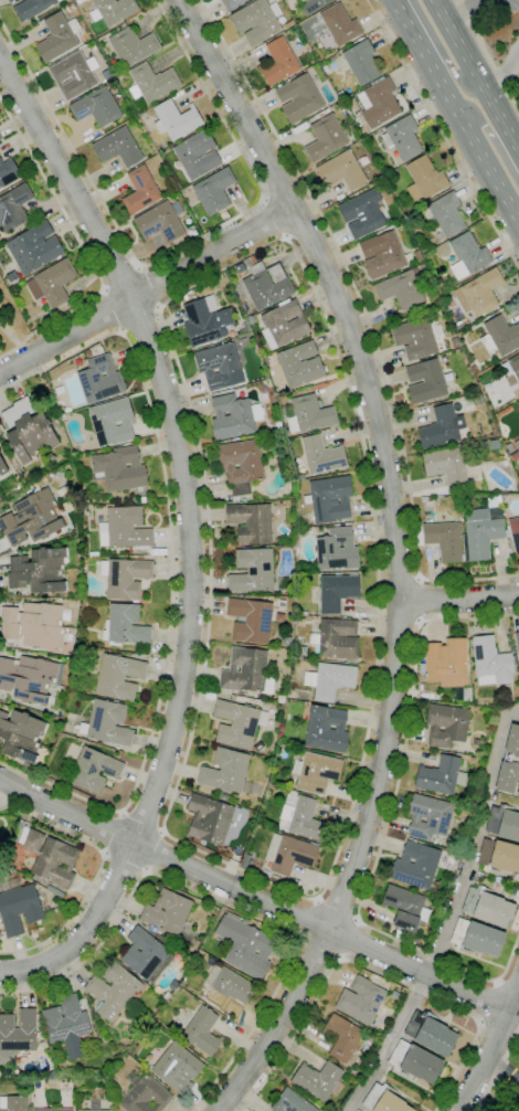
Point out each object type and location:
building: (85, 0)
building: (80, 1)
building: (231, 3)
building: (314, 4)
parking lot: (507, 7)
building: (32, 8)
building: (71, 8)
building: (113, 10)
road: (468, 12)
building: (256, 21)
building: (289, 23)
building: (340, 24)
building: (57, 36)
building: (133, 46)
road: (439, 50)
road: (487, 55)
building: (279, 62)
building: (361, 62)
building: (326, 67)
road: (505, 71)
building: (73, 75)
road: (476, 76)
building: (152, 83)
building: (340, 94)
building: (299, 98)
building: (380, 103)
building: (97, 107)
road: (456, 110)
building: (176, 119)
road: (443, 134)
building: (326, 137)
building: (401, 137)
building: (0, 138)
road: (490, 138)
building: (0, 139)
building: (118, 147)
building: (198, 155)
building: (0, 161)
building: (342, 170)
building: (8, 172)
building: (424, 178)
building: (140, 190)
building: (213, 191)
road: (283, 191)
building: (13, 207)
building: (363, 213)
building: (445, 213)
building: (223, 215)
road: (274, 219)
building: (160, 222)
road: (303, 228)
building: (34, 247)
road: (83, 247)
road: (177, 247)
building: (382, 254)
building: (467, 255)
building: (419, 256)
building: (250, 261)
building: (240, 268)
building: (12, 276)
road: (121, 277)
building: (53, 282)
road: (153, 285)
building: (267, 285)
building: (403, 288)
road: (145, 292)
building: (479, 293)
road: (112, 310)
building: (205, 320)
building: (252, 320)
road: (367, 320)
road: (141, 324)
building: (284, 324)
park: (11, 326)
building: (500, 336)
building: (416, 338)
building: (455, 342)
building: (299, 363)
building: (220, 366)
building: (475, 369)
building: (512, 371)
building: (100, 379)
building: (425, 381)
building: (518, 408)
building: (309, 414)
building: (234, 415)
building: (62, 417)
building: (113, 422)
building: (442, 427)
building: (28, 430)
building: (517, 444)
building: (510, 447)
building: (321, 455)
building: (515, 456)
building: (505, 463)
building: (241, 465)
building: (446, 465)
building: (2, 467)
building: (119, 469)
building: (300, 476)
building: (330, 498)
building: (424, 499)
building: (144, 500)
building: (31, 518)
building: (251, 522)
building: (127, 527)
building: (513, 532)
road: (189, 535)
building: (481, 537)
building: (445, 540)
building: (337, 550)
road: (394, 551)
building: (39, 570)
road: (171, 570)
building: (252, 571)
building: (125, 578)
road: (400, 581)
building: (338, 591)
road: (459, 597)
road: (421, 601)
building: (282, 603)
building: (279, 617)
building: (251, 620)
road: (399, 620)
building: (33, 625)
building: (125, 625)
building: (337, 639)
building: (517, 641)
building: (301, 650)
building: (492, 662)
building: (446, 663)
building: (247, 671)
building: (119, 676)
building: (29, 677)
building: (330, 680)
building: (107, 723)
building: (239, 723)
building: (446, 724)
building: (327, 729)
building: (21, 734)
building: (476, 742)
building: (306, 748)
building: (510, 762)
building: (94, 770)
building: (225, 771)
building: (318, 772)
building: (442, 775)
building: (518, 793)
building: (223, 797)
building: (430, 816)
building: (301, 817)
building: (210, 819)
road: (142, 822)
road: (386, 823)
building: (504, 823)
road: (341, 840)
road: (155, 851)
building: (289, 854)
road: (105, 855)
building: (499, 856)
building: (55, 863)
building: (245, 864)
building: (416, 865)
road: (97, 870)
building: (55, 890)
road: (252, 897)
road: (223, 904)
building: (406, 907)
building: (488, 907)
road: (338, 908)
building: (19, 909)
building: (167, 912)
road: (449, 917)
road: (307, 920)
building: (153, 930)
building: (157, 935)
road: (348, 938)
building: (477, 938)
building: (416, 940)
building: (197, 945)
building: (245, 946)
road: (318, 952)
building: (146, 955)
road: (373, 971)
road: (508, 984)
building: (173, 985)
building: (226, 986)
building: (113, 991)
building: (361, 999)
road: (489, 1002)
road: (513, 1015)
building: (67, 1025)
road: (496, 1029)
building: (19, 1031)
building: (202, 1031)
building: (431, 1033)
building: (341, 1037)
building: (373, 1037)
road: (492, 1047)
building: (415, 1061)
building: (178, 1068)
road: (498, 1068)
road: (502, 1072)
building: (318, 1080)
building: (338, 1088)
building: (144, 1094)
building: (384, 1100)
building: (292, 1102)
building: (13, 1103)
building: (95, 1107)
building: (53, 1110)
building: (96, 1110)
building: (357, 1110)

